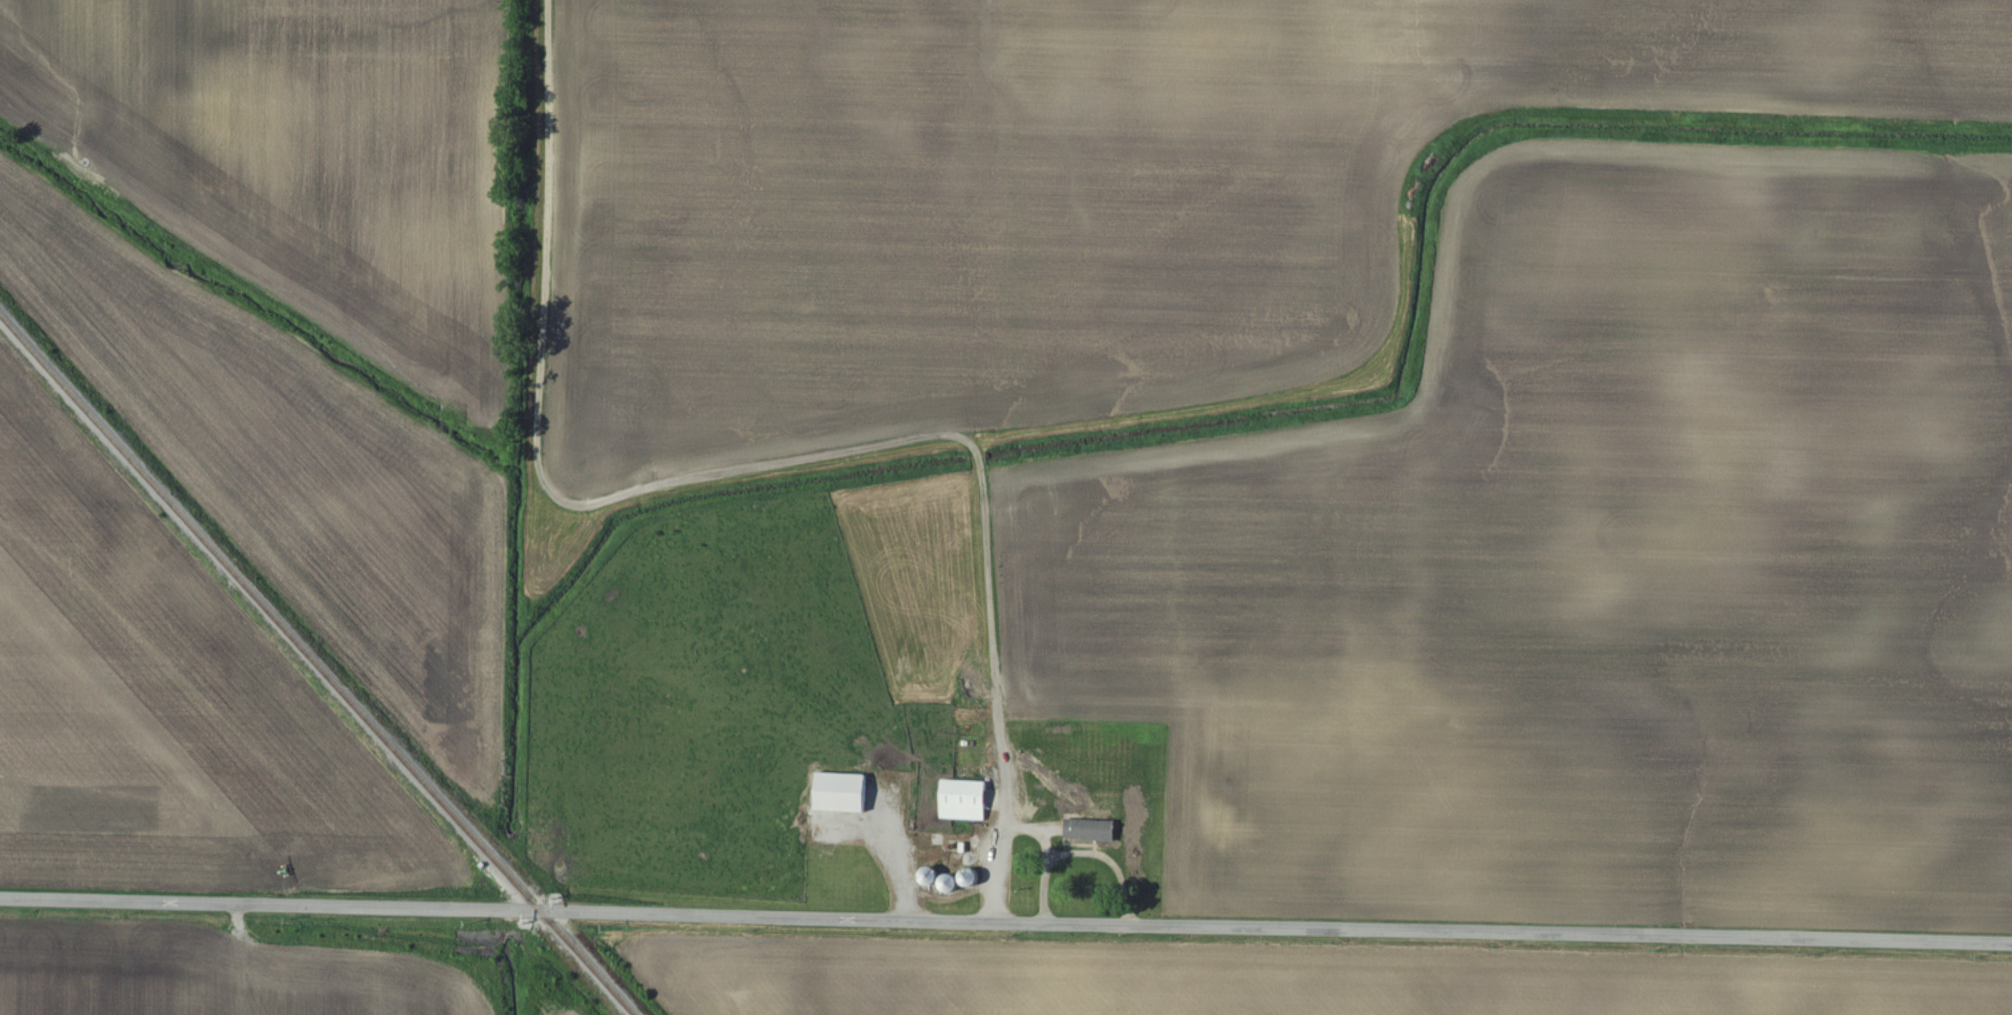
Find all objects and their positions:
road: (644, 489)
railway: (318, 664)
building: (841, 792)
building: (964, 801)
road: (1003, 812)
building: (1091, 831)
road: (1044, 856)
road: (1006, 922)

